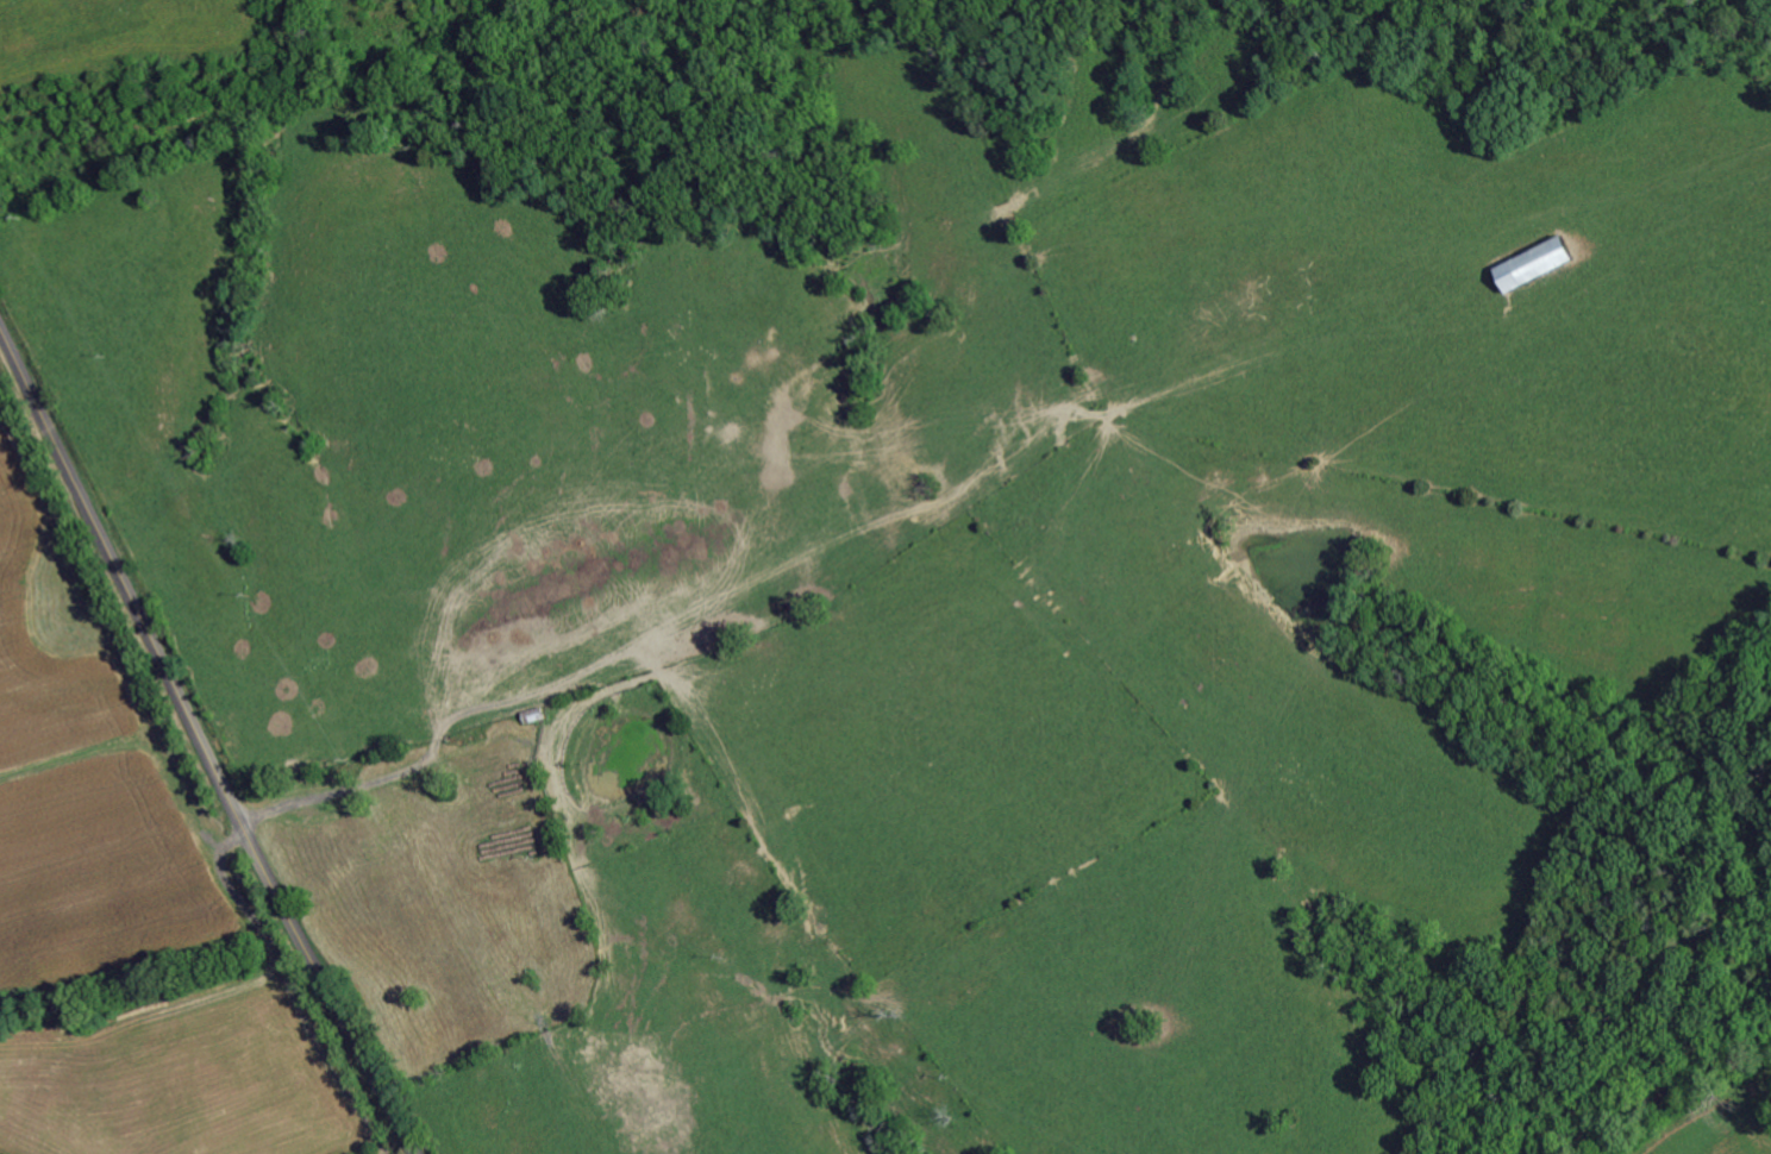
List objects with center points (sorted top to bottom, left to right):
building: (1533, 261)
road: (201, 746)

